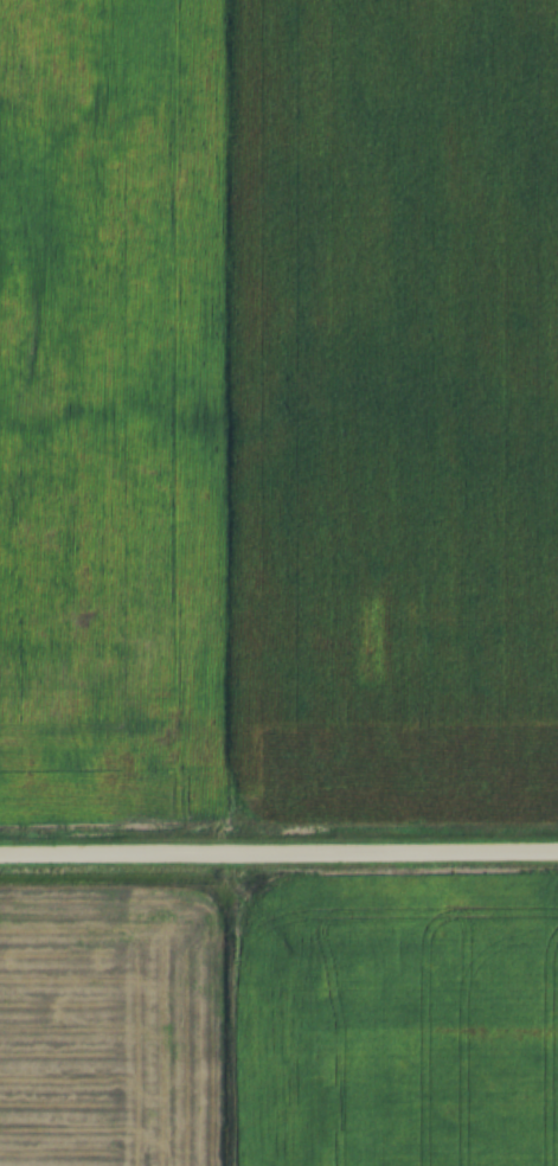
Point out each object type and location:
road: (278, 854)

